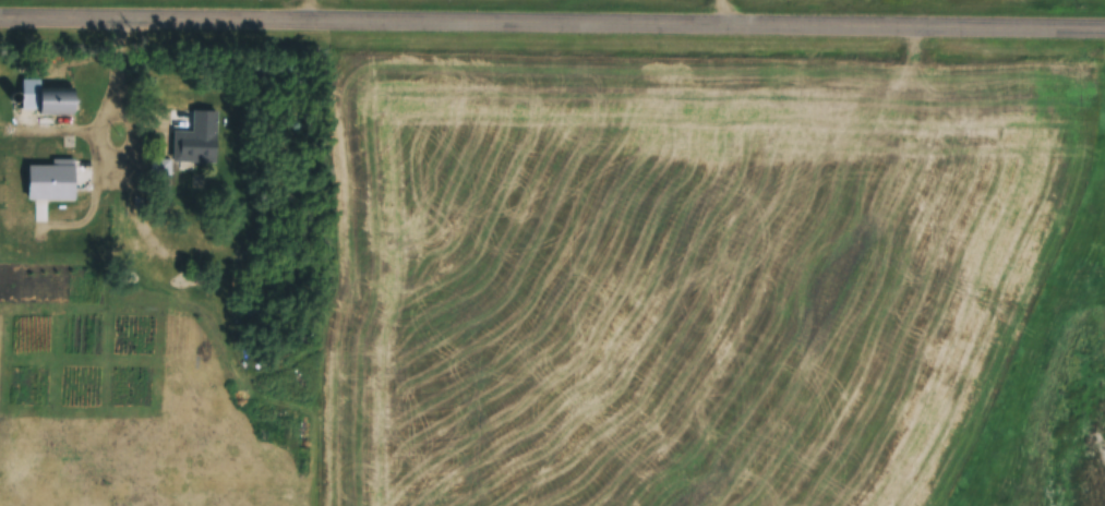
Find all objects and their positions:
road: (552, 27)
building: (43, 99)
building: (189, 133)
building: (159, 168)
building: (94, 184)
building: (103, 216)

